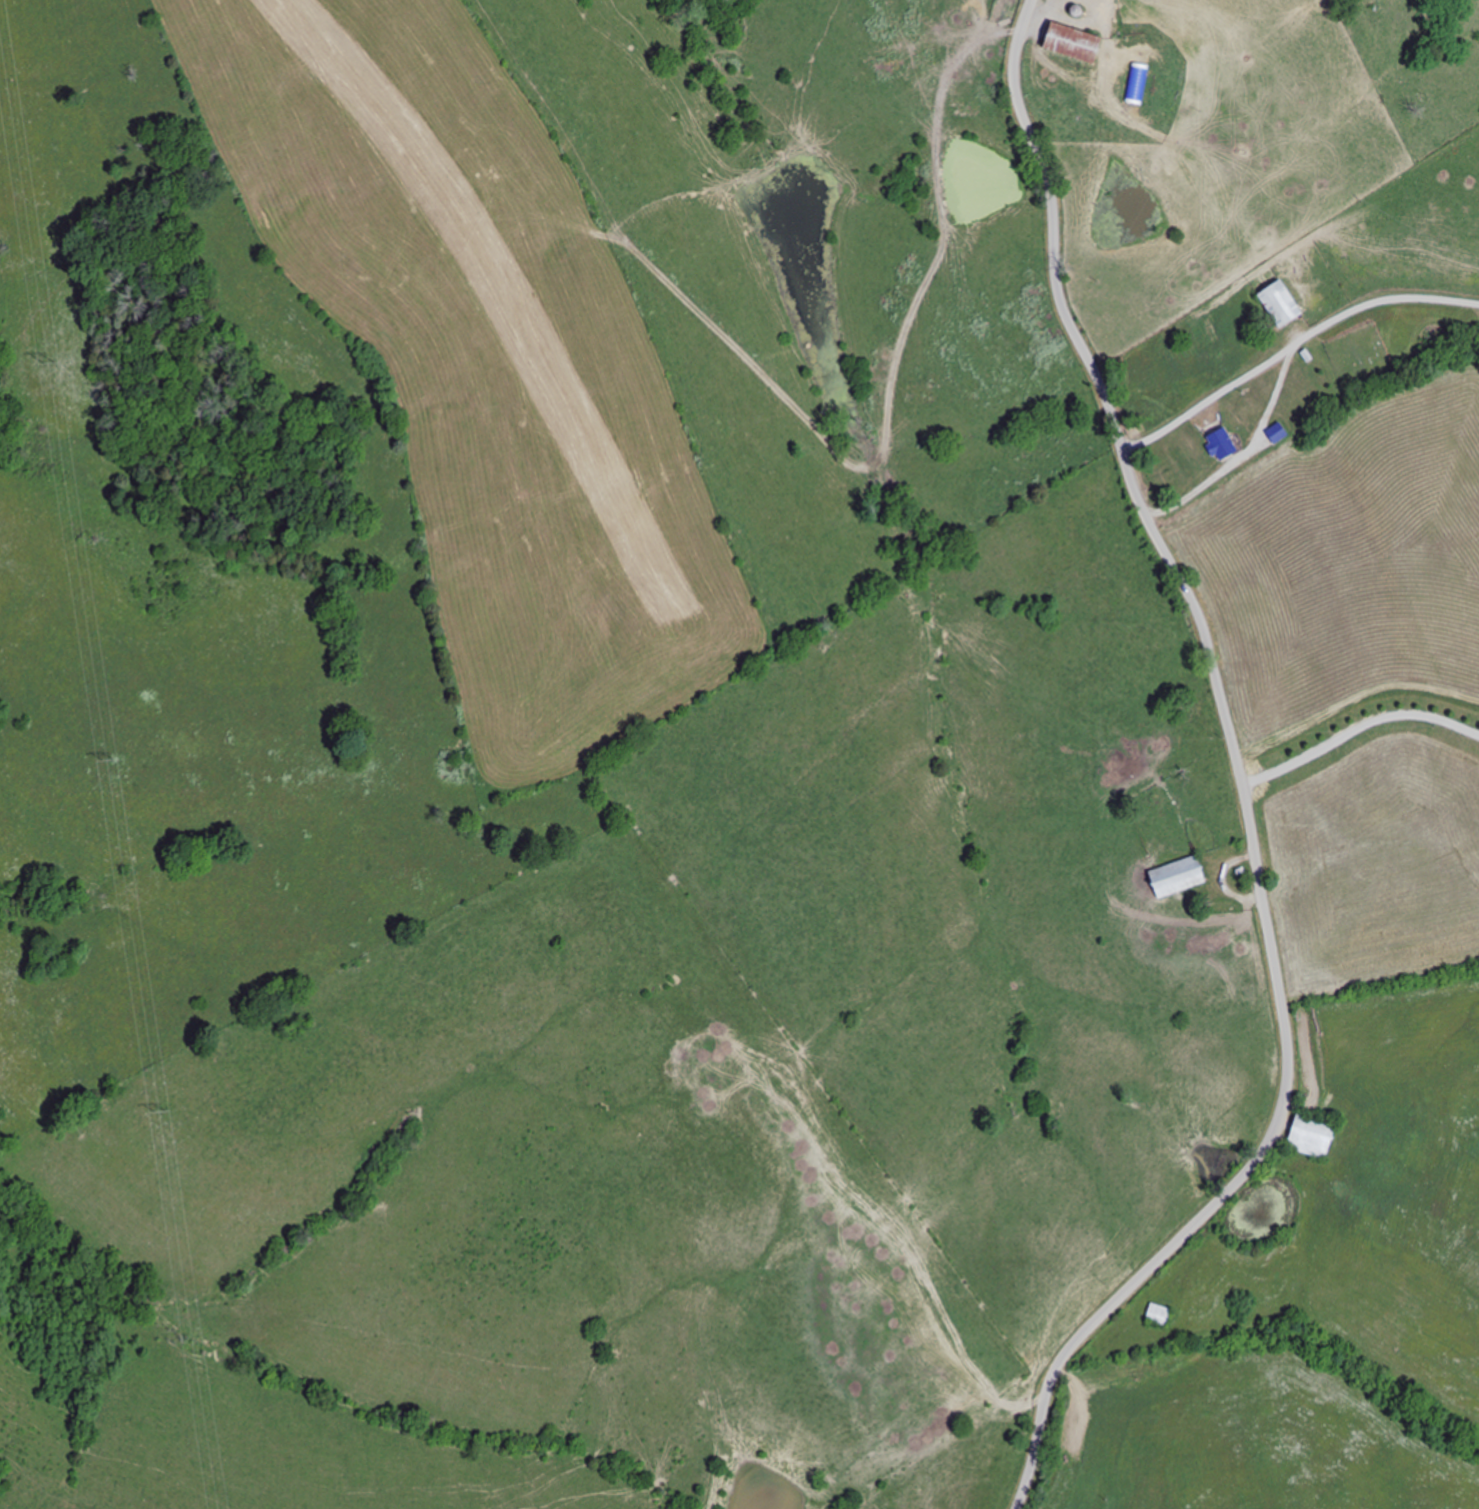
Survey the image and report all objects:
building: (1080, 45)
building: (1286, 304)
road: (1290, 340)
building: (1223, 445)
road: (1242, 449)
road: (1240, 781)
building: (1180, 877)
building: (1316, 1138)
building: (1161, 1316)

